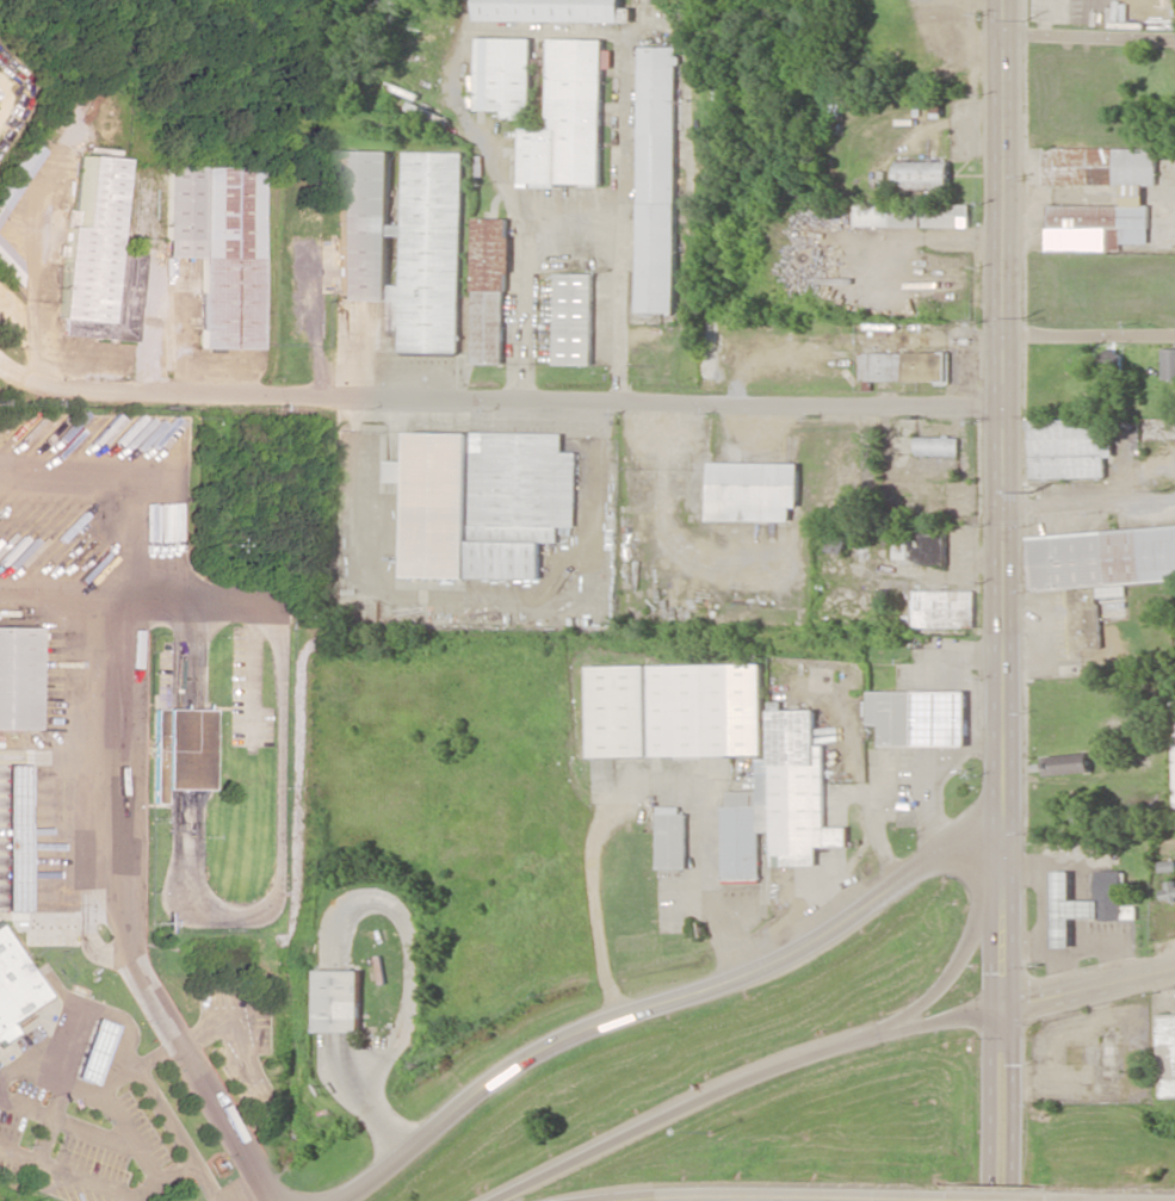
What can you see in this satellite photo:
building: (546, 10)
road: (1090, 38)
building: (502, 74)
building: (567, 118)
building: (17, 173)
building: (922, 175)
building: (655, 179)
building: (1131, 194)
building: (913, 215)
building: (402, 244)
building: (217, 247)
building: (99, 261)
building: (8, 264)
building: (489, 290)
building: (573, 318)
road: (1094, 335)
road: (30, 345)
building: (1168, 364)
building: (1111, 365)
building: (902, 366)
road: (26, 380)
road: (533, 397)
building: (936, 446)
building: (1066, 447)
road: (129, 488)
building: (752, 490)
building: (482, 502)
road: (1010, 506)
road: (1093, 510)
building: (1097, 569)
road: (58, 598)
building: (942, 608)
building: (19, 677)
building: (675, 710)
building: (919, 718)
building: (1173, 749)
building: (174, 750)
building: (1065, 763)
building: (780, 803)
building: (672, 837)
building: (14, 840)
building: (1087, 902)
road: (117, 923)
building: (14, 988)
road: (1089, 992)
building: (339, 1001)
road: (663, 1003)
road: (406, 1004)
traffic signals: (1004, 1014)
road: (933, 1026)
building: (82, 1051)
building: (1165, 1054)
road: (773, 1072)
road: (1002, 1107)
road: (753, 1193)
road: (1025, 1197)
road: (1161, 1200)

